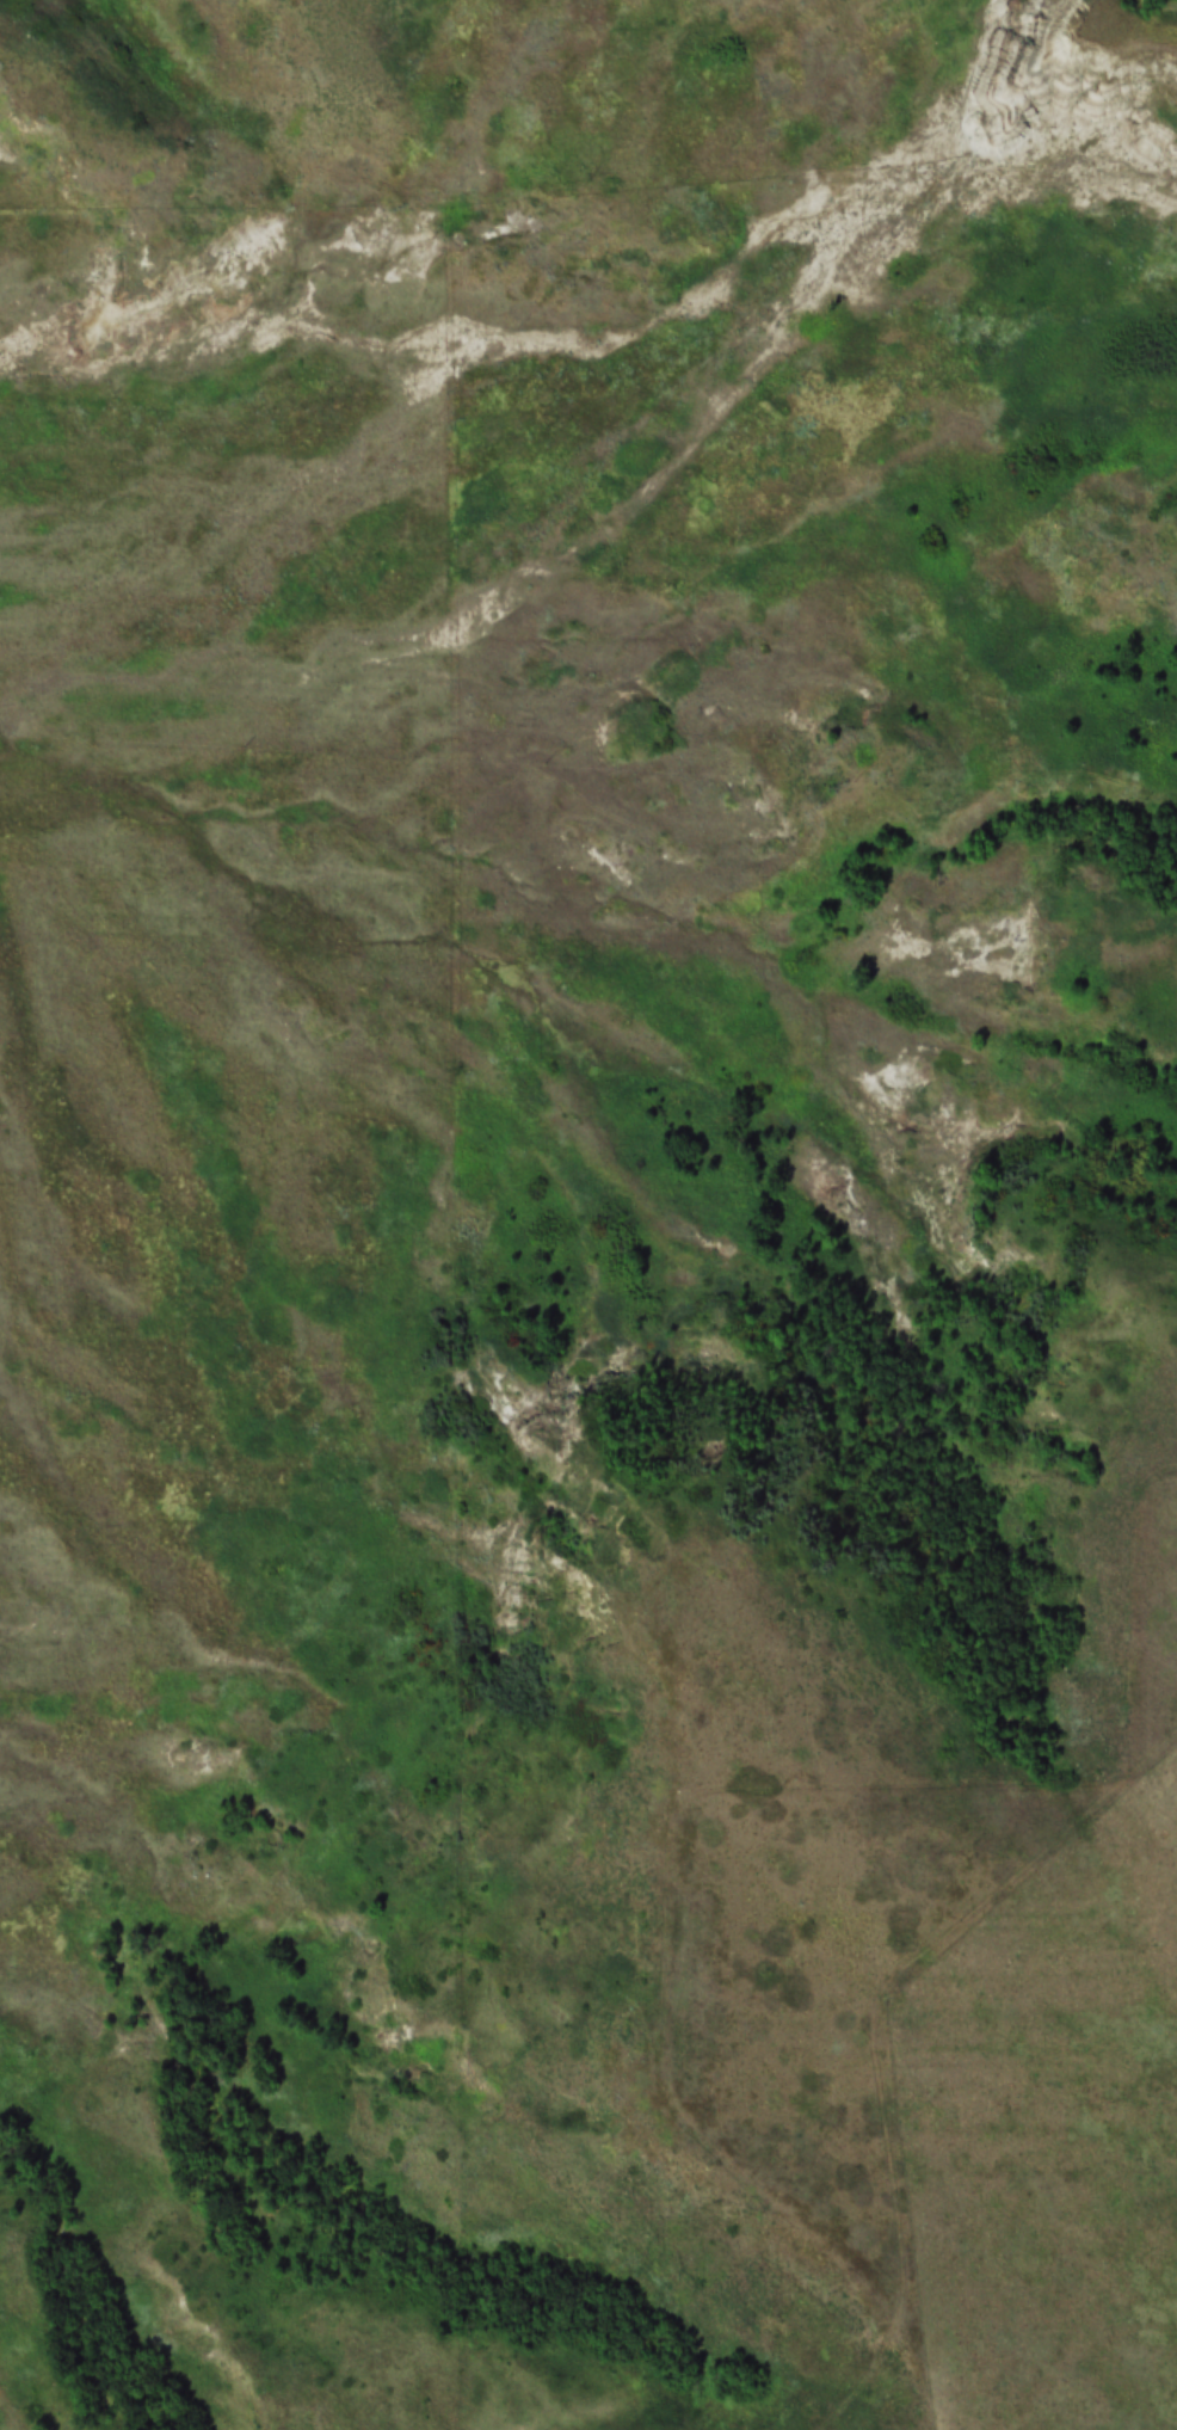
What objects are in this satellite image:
road: (63, 1284)

